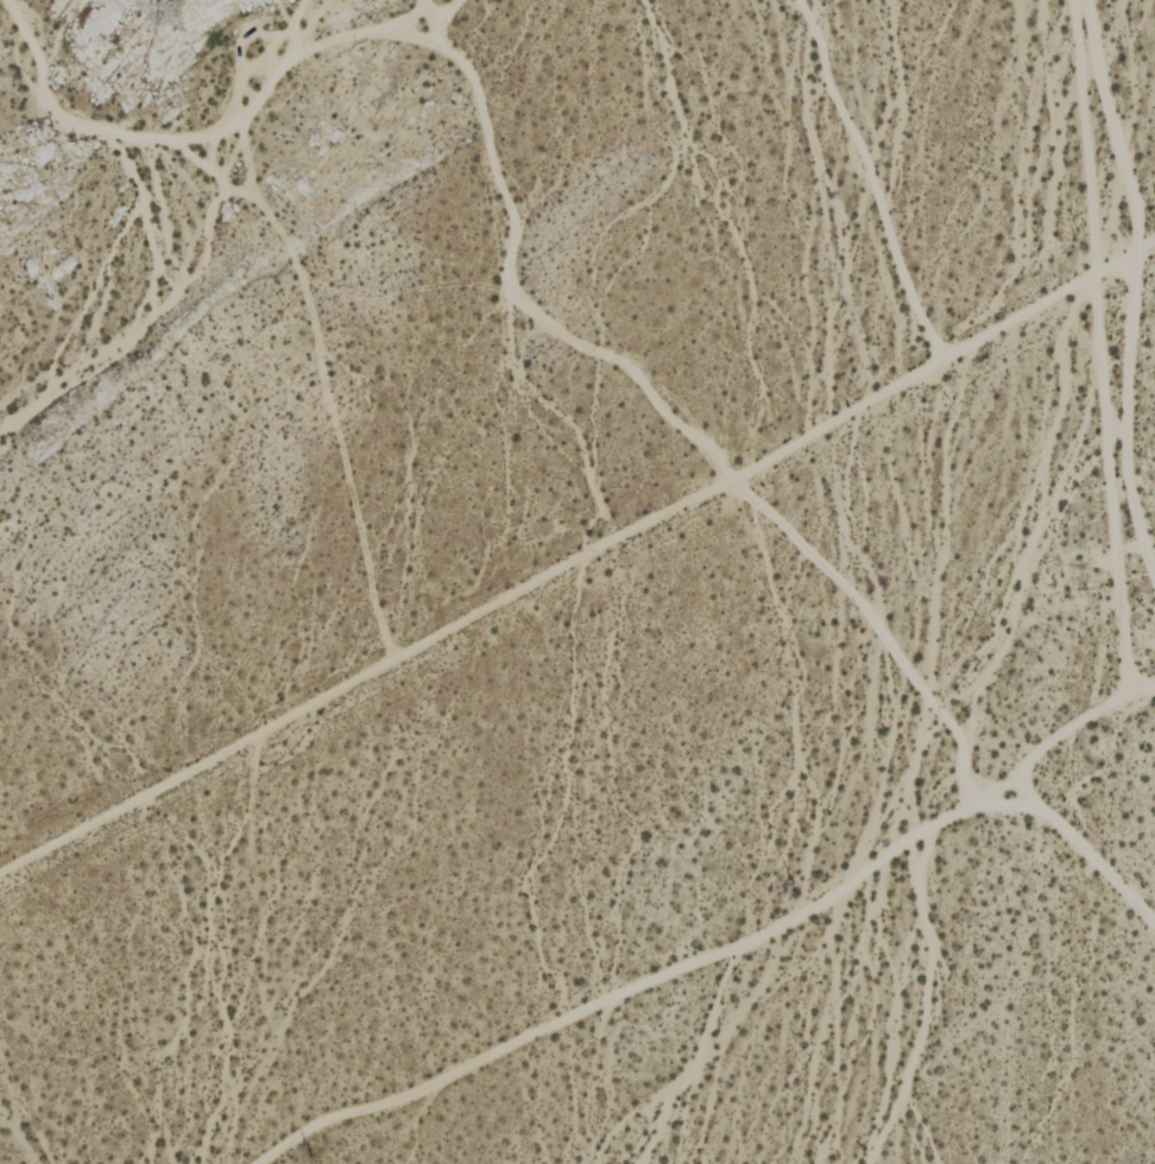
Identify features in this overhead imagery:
power tower: (176, 14)
road: (577, 556)
power tower: (794, 887)
power tower: (308, 1152)

